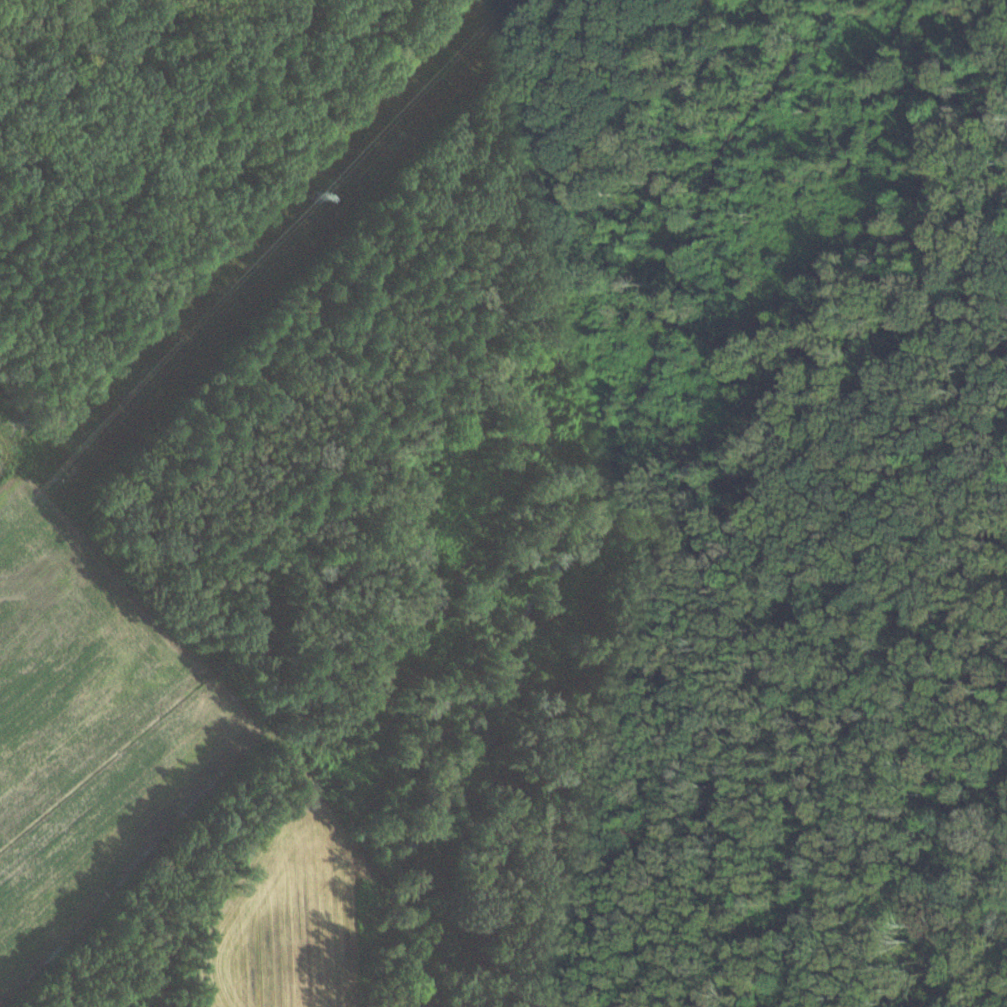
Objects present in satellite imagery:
power tower: (312, 198)
power tower: (50, 472)

